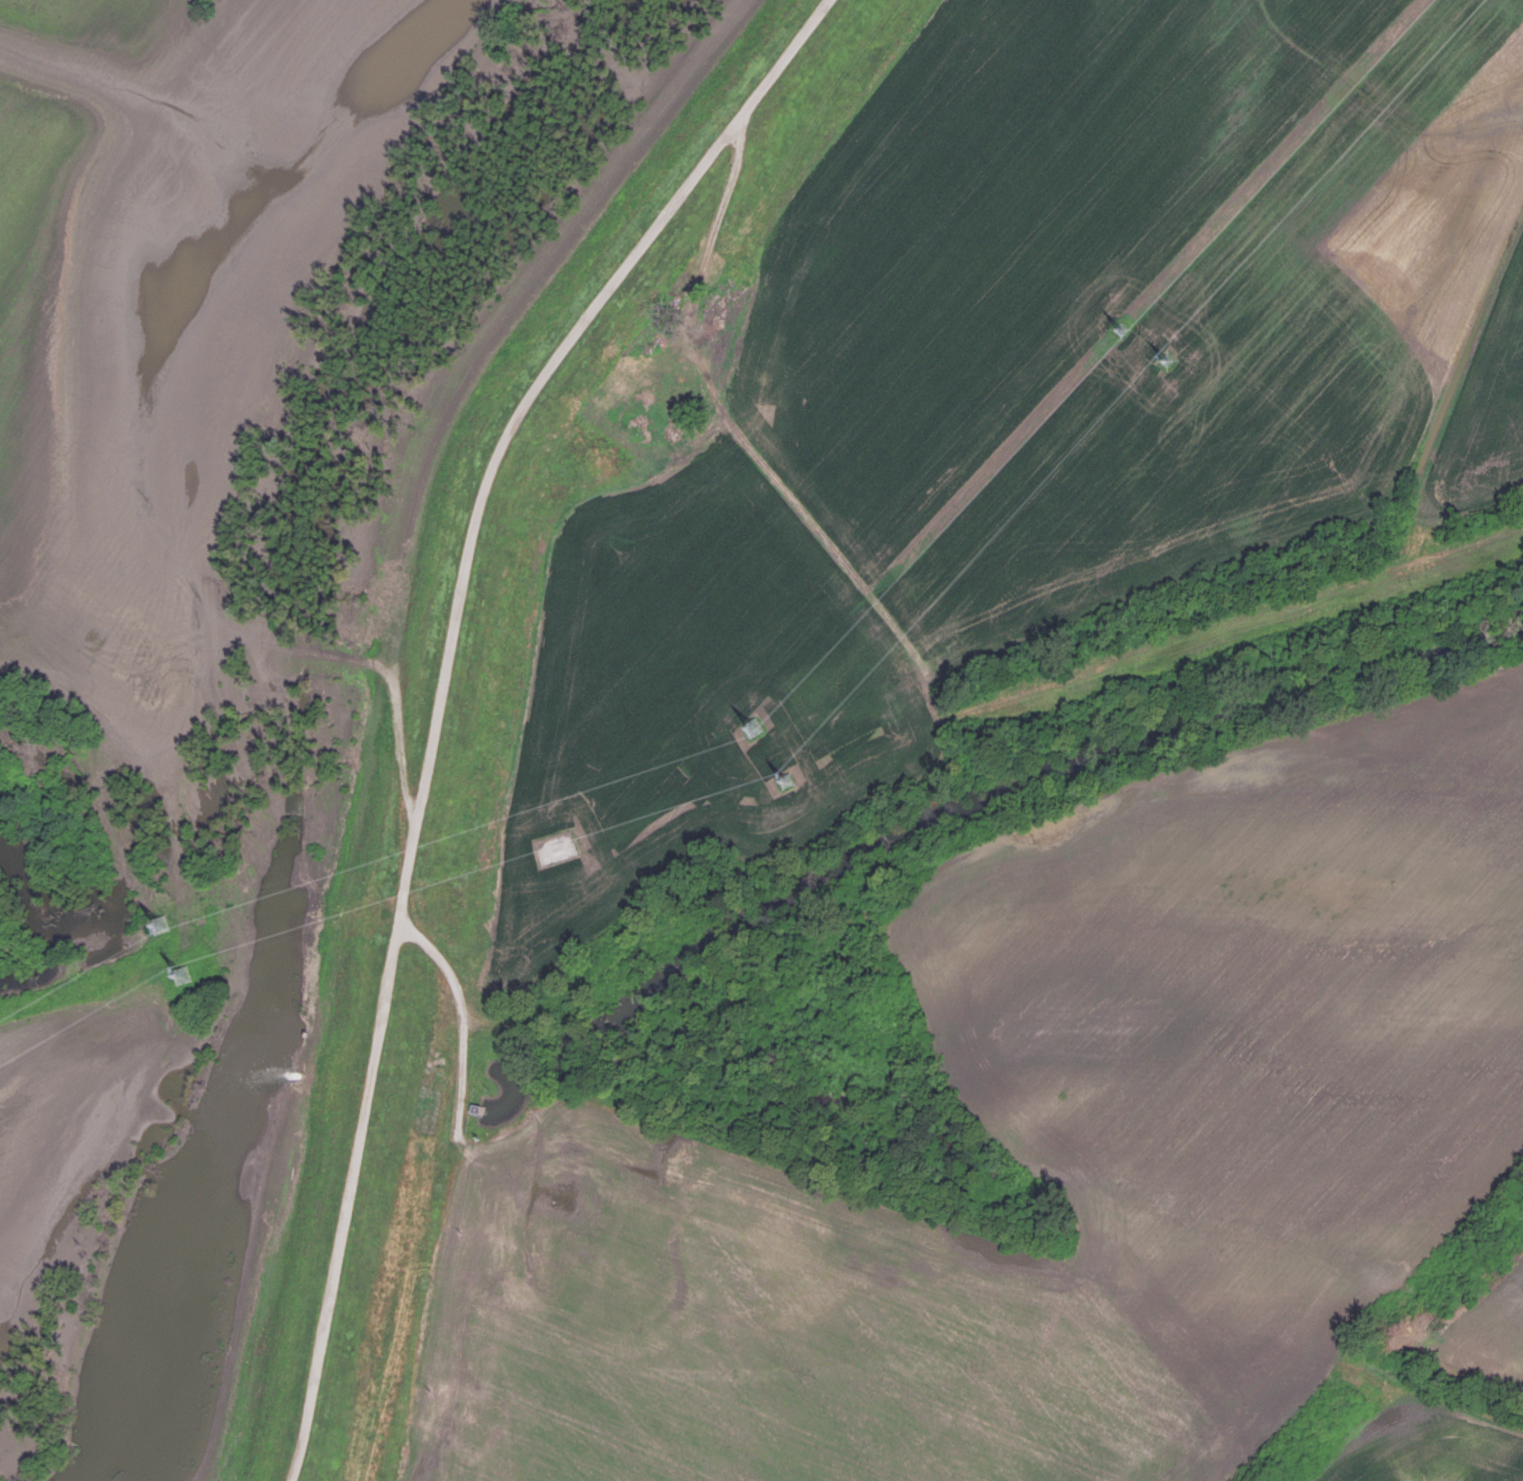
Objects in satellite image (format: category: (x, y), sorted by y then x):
crop: (166, 300)
power tower: (1121, 330)
power tower: (1167, 371)
crop: (1026, 401)
road: (446, 691)
power tower: (747, 740)
power tower: (785, 792)
power tower: (159, 936)
power tower: (182, 990)
crop: (65, 1098)
crop: (1058, 1149)
crop: (1492, 1331)
crop: (1429, 1445)

